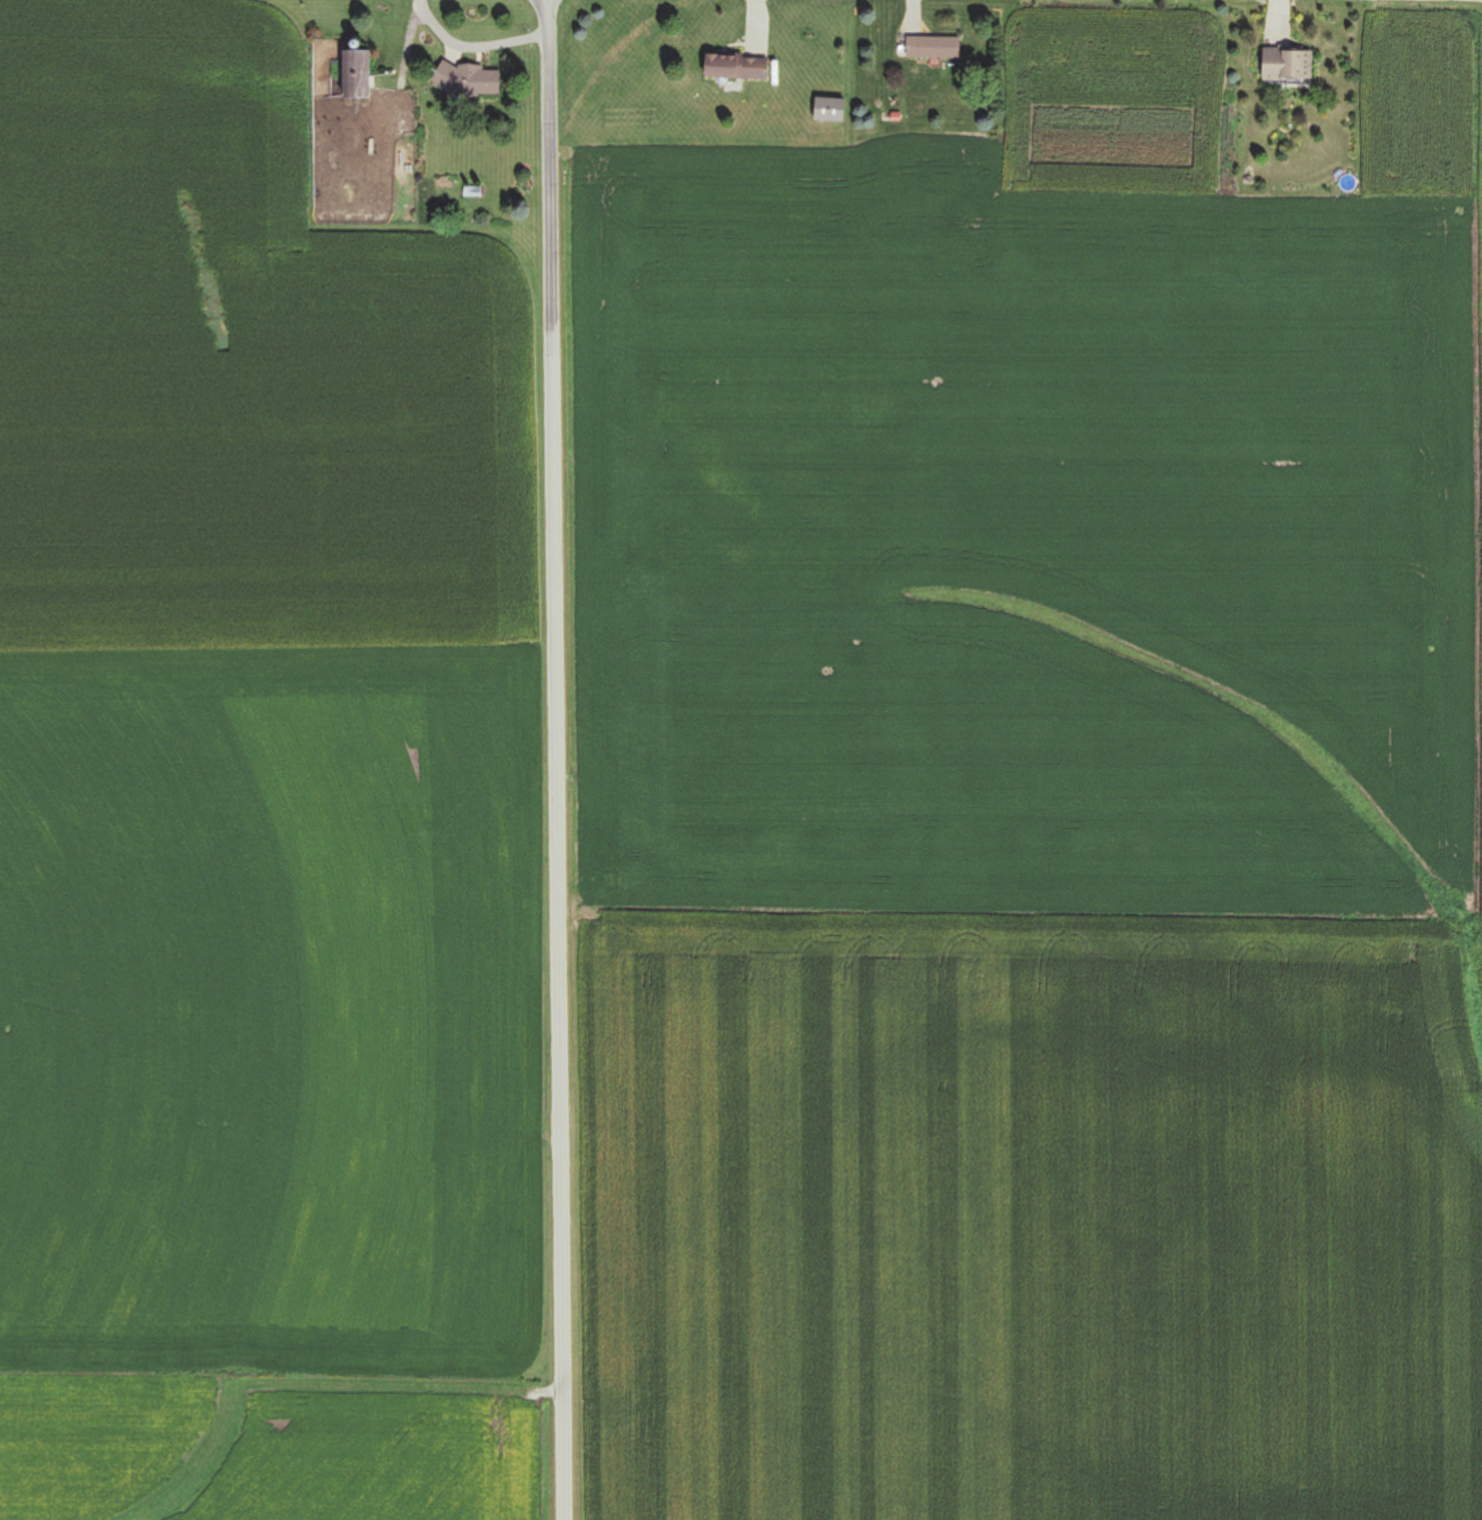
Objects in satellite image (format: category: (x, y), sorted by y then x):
building: (931, 47)
building: (1283, 64)
building: (732, 67)
building: (354, 73)
building: (465, 79)
building: (827, 109)
building: (471, 191)
road: (554, 228)
road: (554, 988)

